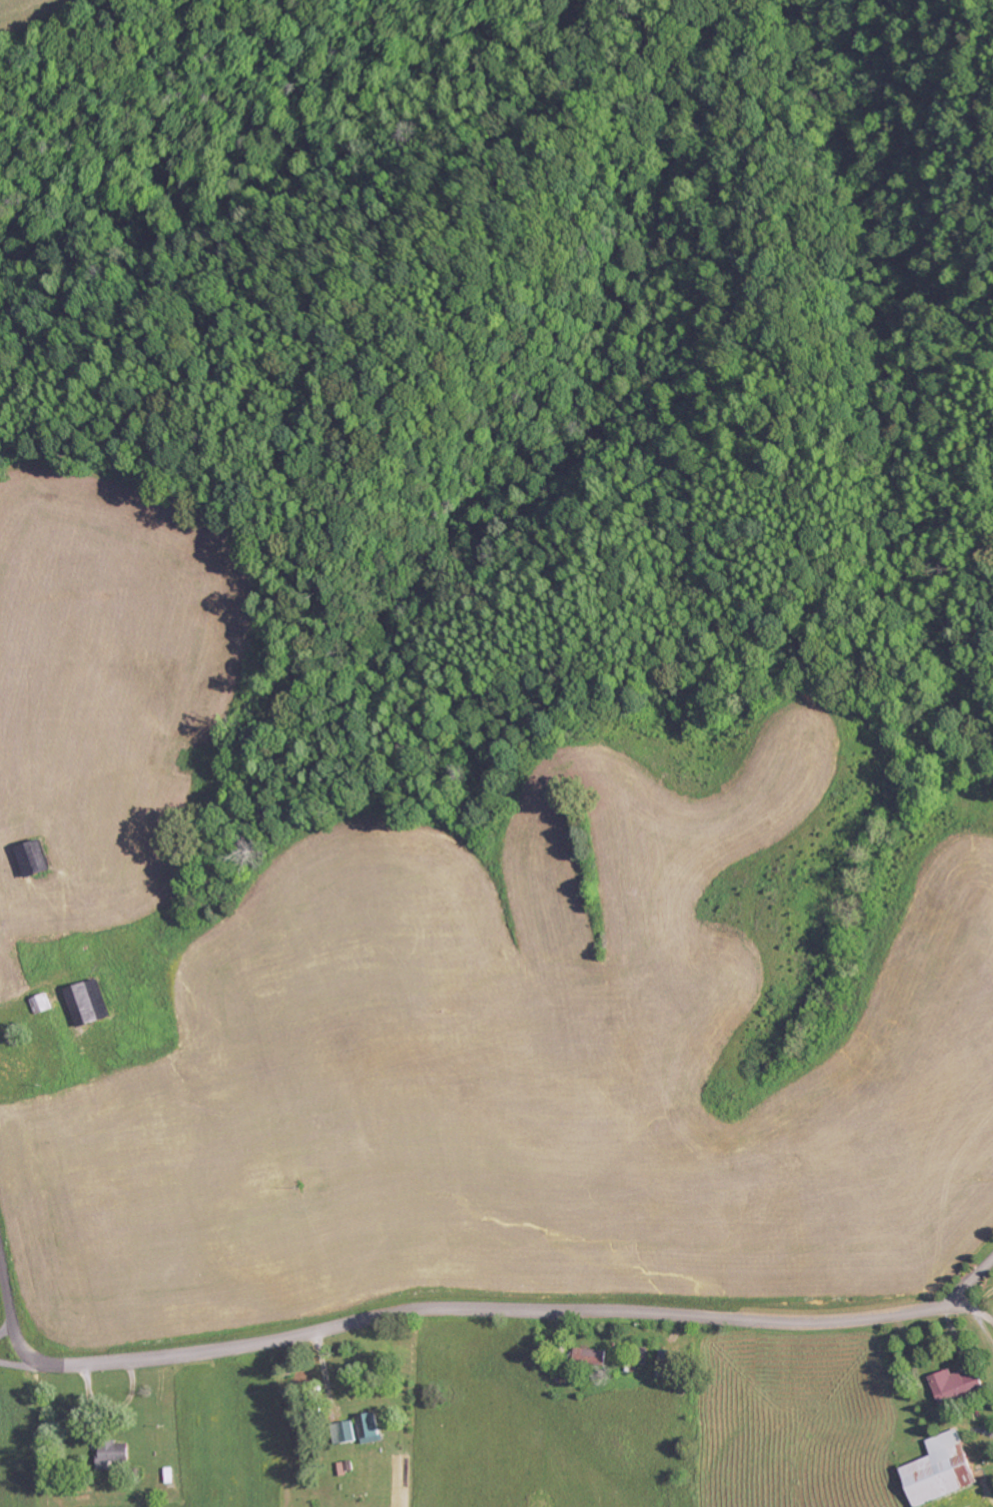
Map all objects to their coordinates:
road: (973, 1282)
road: (7, 1297)
road: (496, 1314)
road: (16, 1344)
building: (595, 1356)
building: (673, 1364)
building: (959, 1385)
building: (371, 1428)
building: (350, 1432)
building: (943, 1470)

